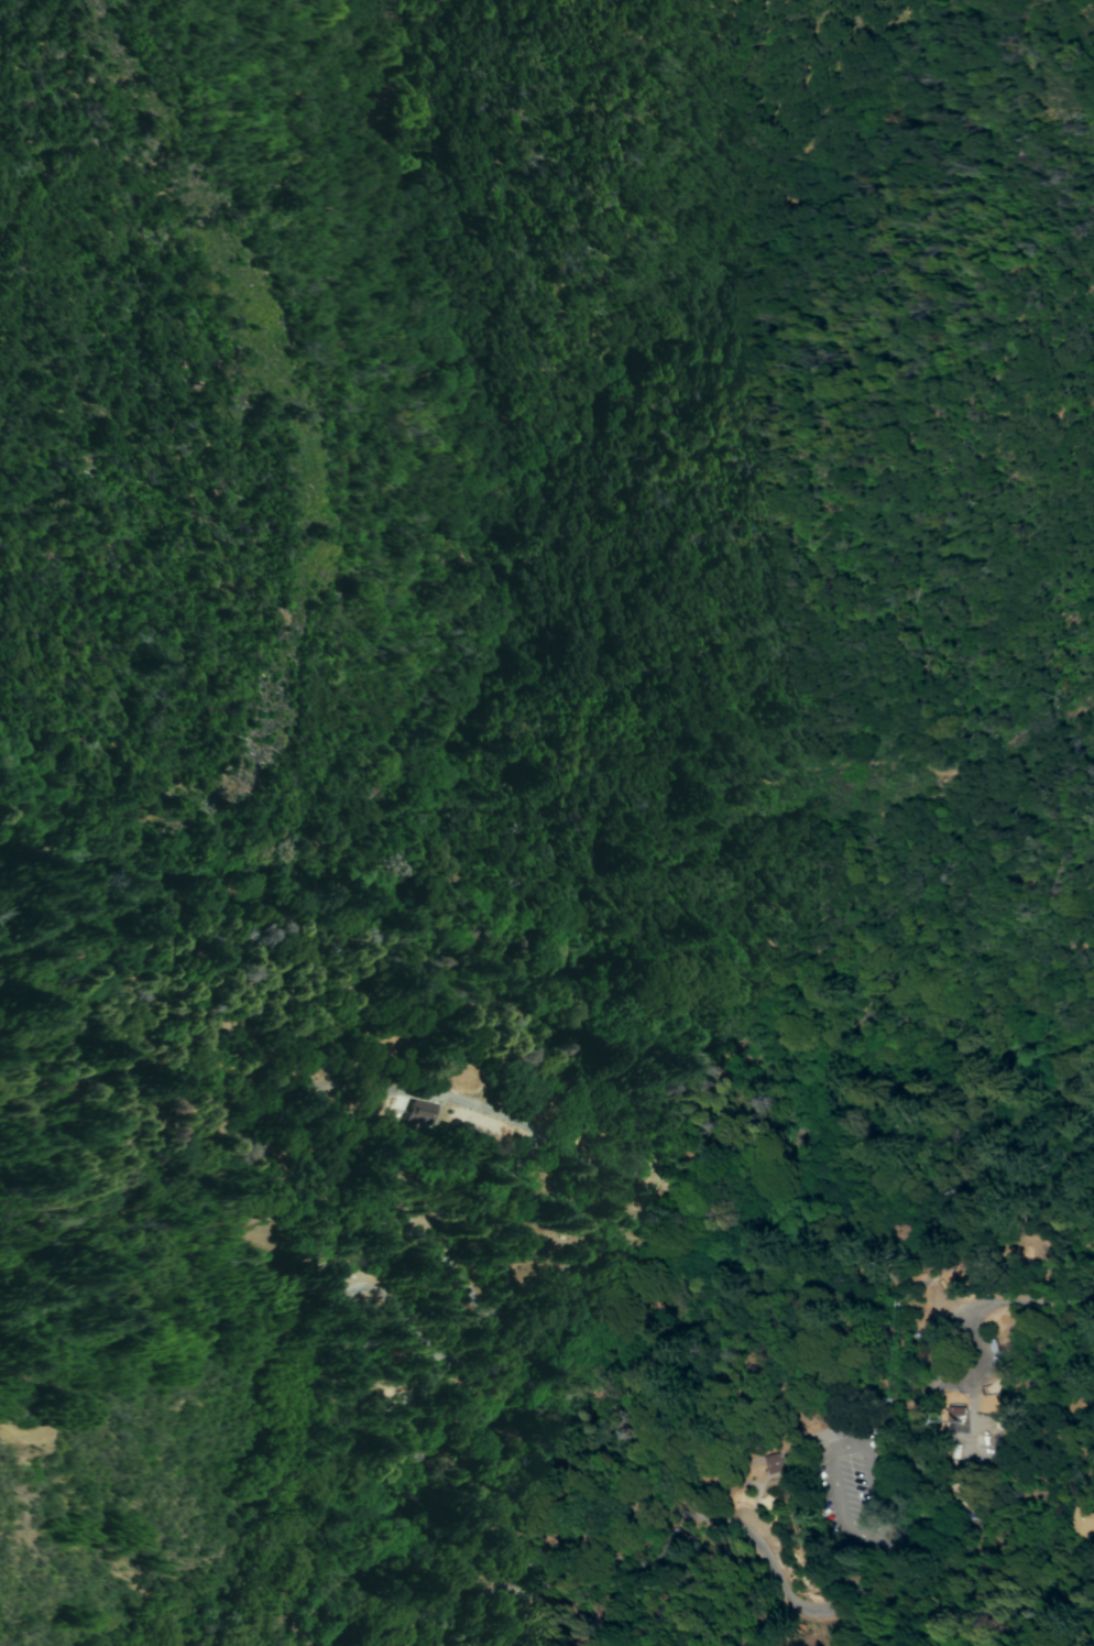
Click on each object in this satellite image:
road: (304, 408)
road: (557, 946)
road: (499, 1099)
road: (860, 1115)
road: (184, 1146)
road: (423, 1201)
road: (365, 1275)
road: (832, 1277)
road: (1030, 1302)
road: (712, 1323)
road: (936, 1392)
road: (28, 1395)
toll booth: (927, 1403)
road: (969, 1437)
road: (836, 1447)
road: (821, 1450)
building: (774, 1463)
parking lot: (857, 1492)
road: (698, 1494)
road: (361, 1500)
road: (692, 1536)
road: (885, 1546)
parking lot: (748, 1555)
road: (340, 1569)
road: (363, 1574)
road: (523, 1616)
road: (444, 1631)
road: (350, 1632)
road: (392, 1643)
road: (397, 1643)

